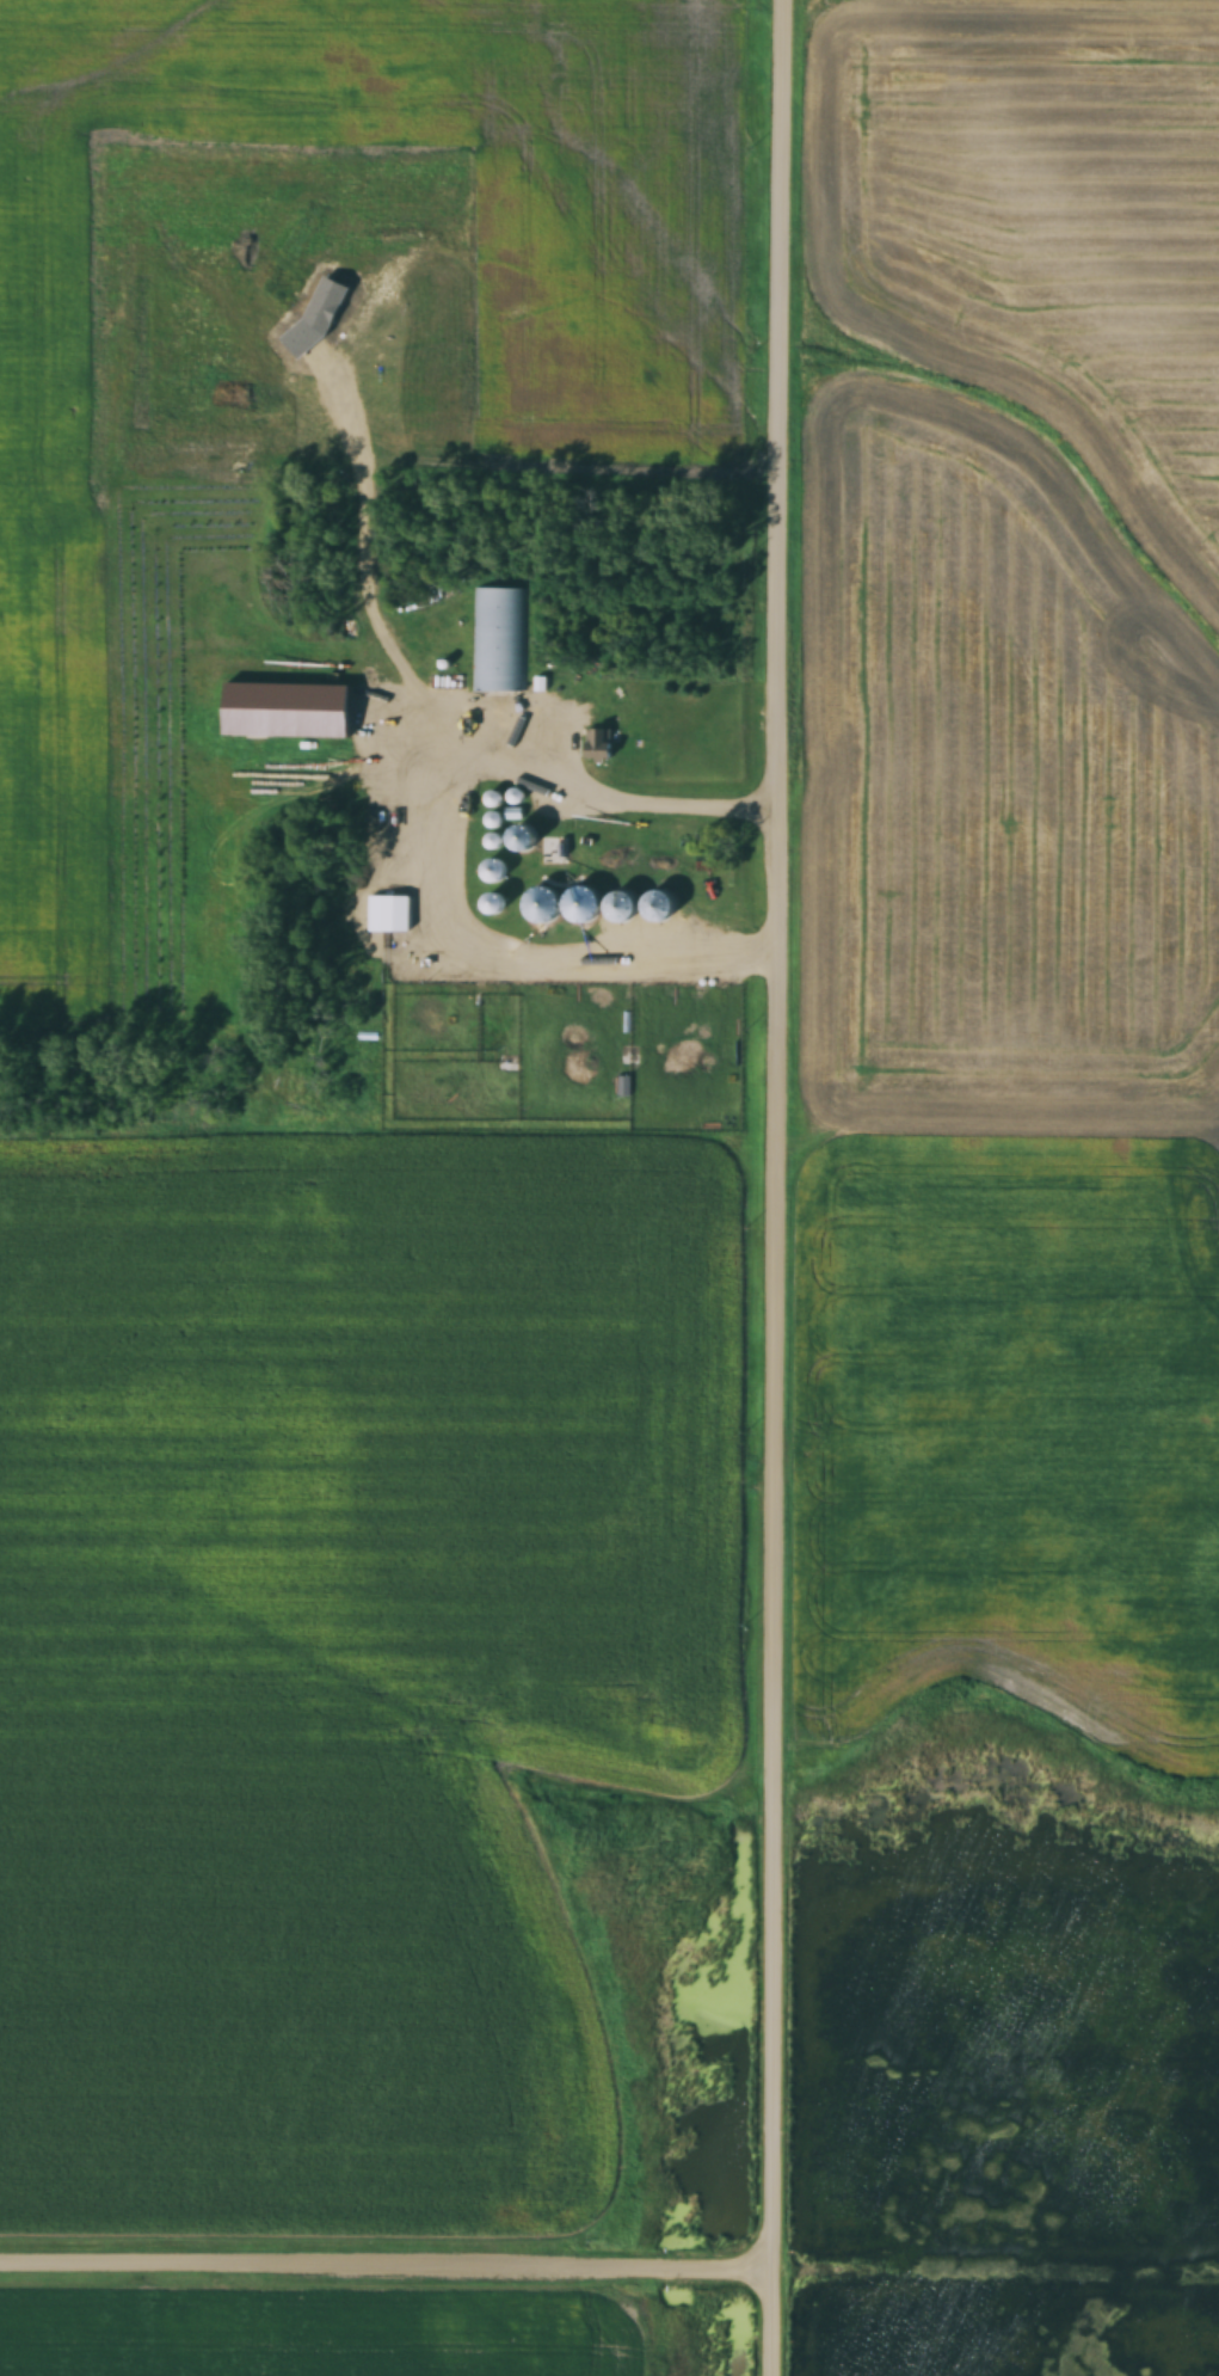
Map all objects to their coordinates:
building: (498, 640)
building: (598, 745)
road: (780, 1187)
road: (387, 2270)

